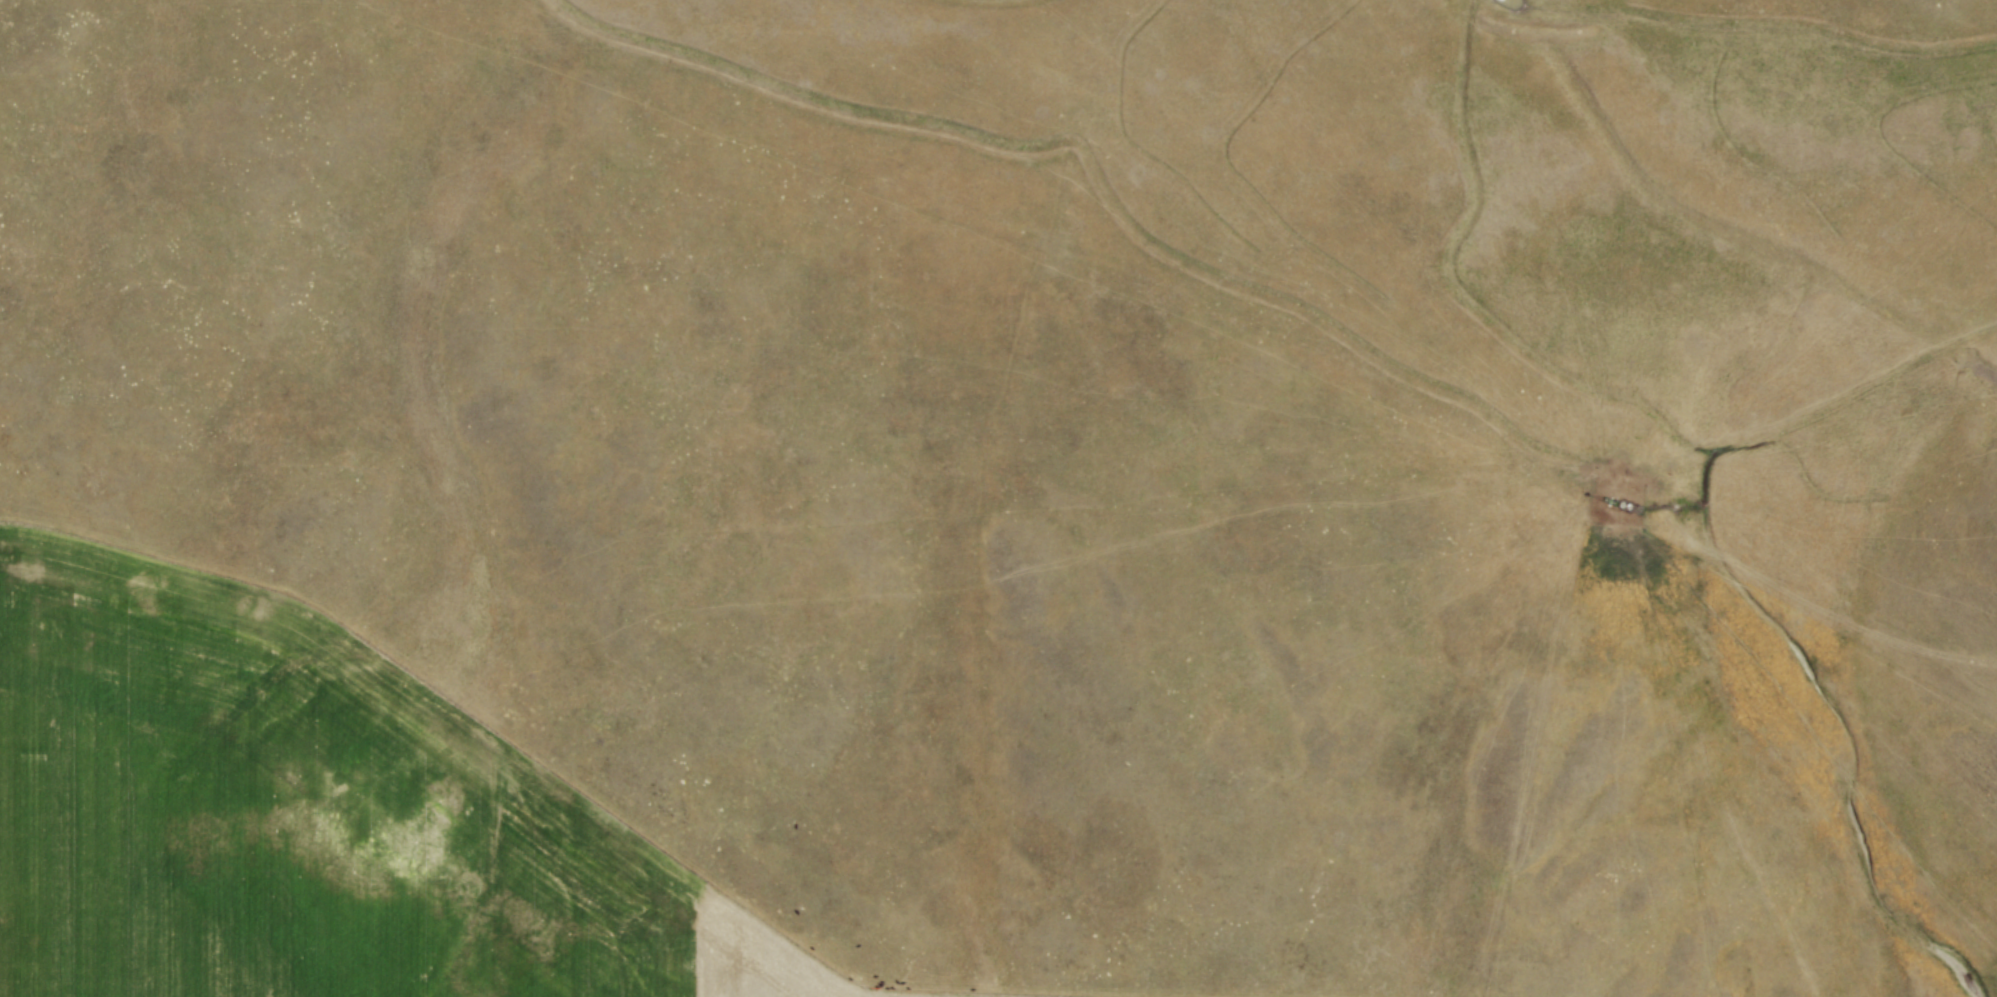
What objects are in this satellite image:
crop: (303, 820)

